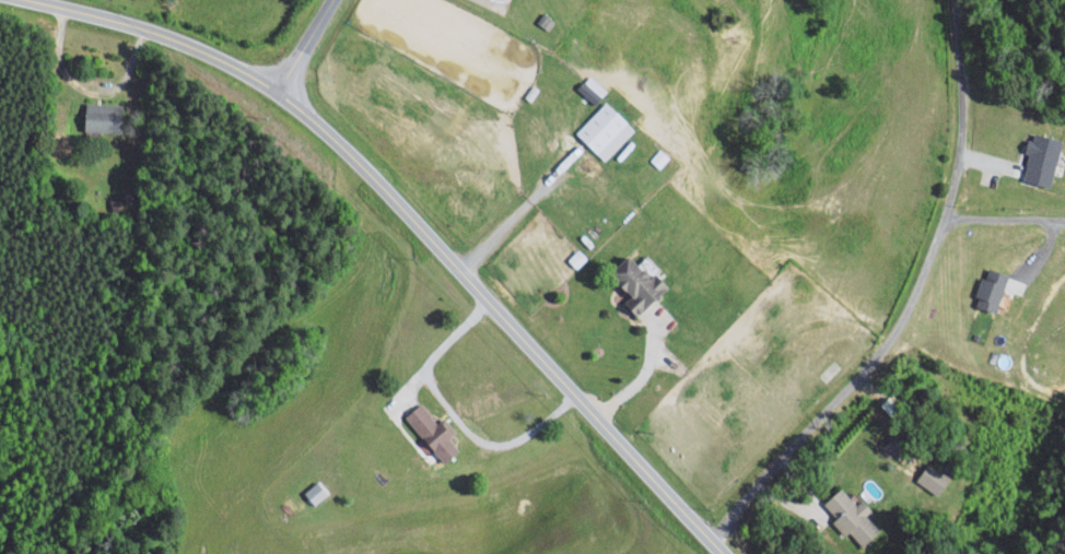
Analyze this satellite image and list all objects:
road: (484, 1)
building: (546, 21)
road: (295, 40)
building: (592, 89)
building: (103, 117)
building: (606, 130)
building: (1042, 158)
road: (515, 214)
road: (1004, 217)
road: (431, 249)
building: (577, 258)
building: (637, 283)
building: (991, 288)
road: (911, 303)
road: (636, 379)
road: (453, 416)
building: (433, 432)
building: (933, 478)
building: (316, 492)
building: (851, 516)

